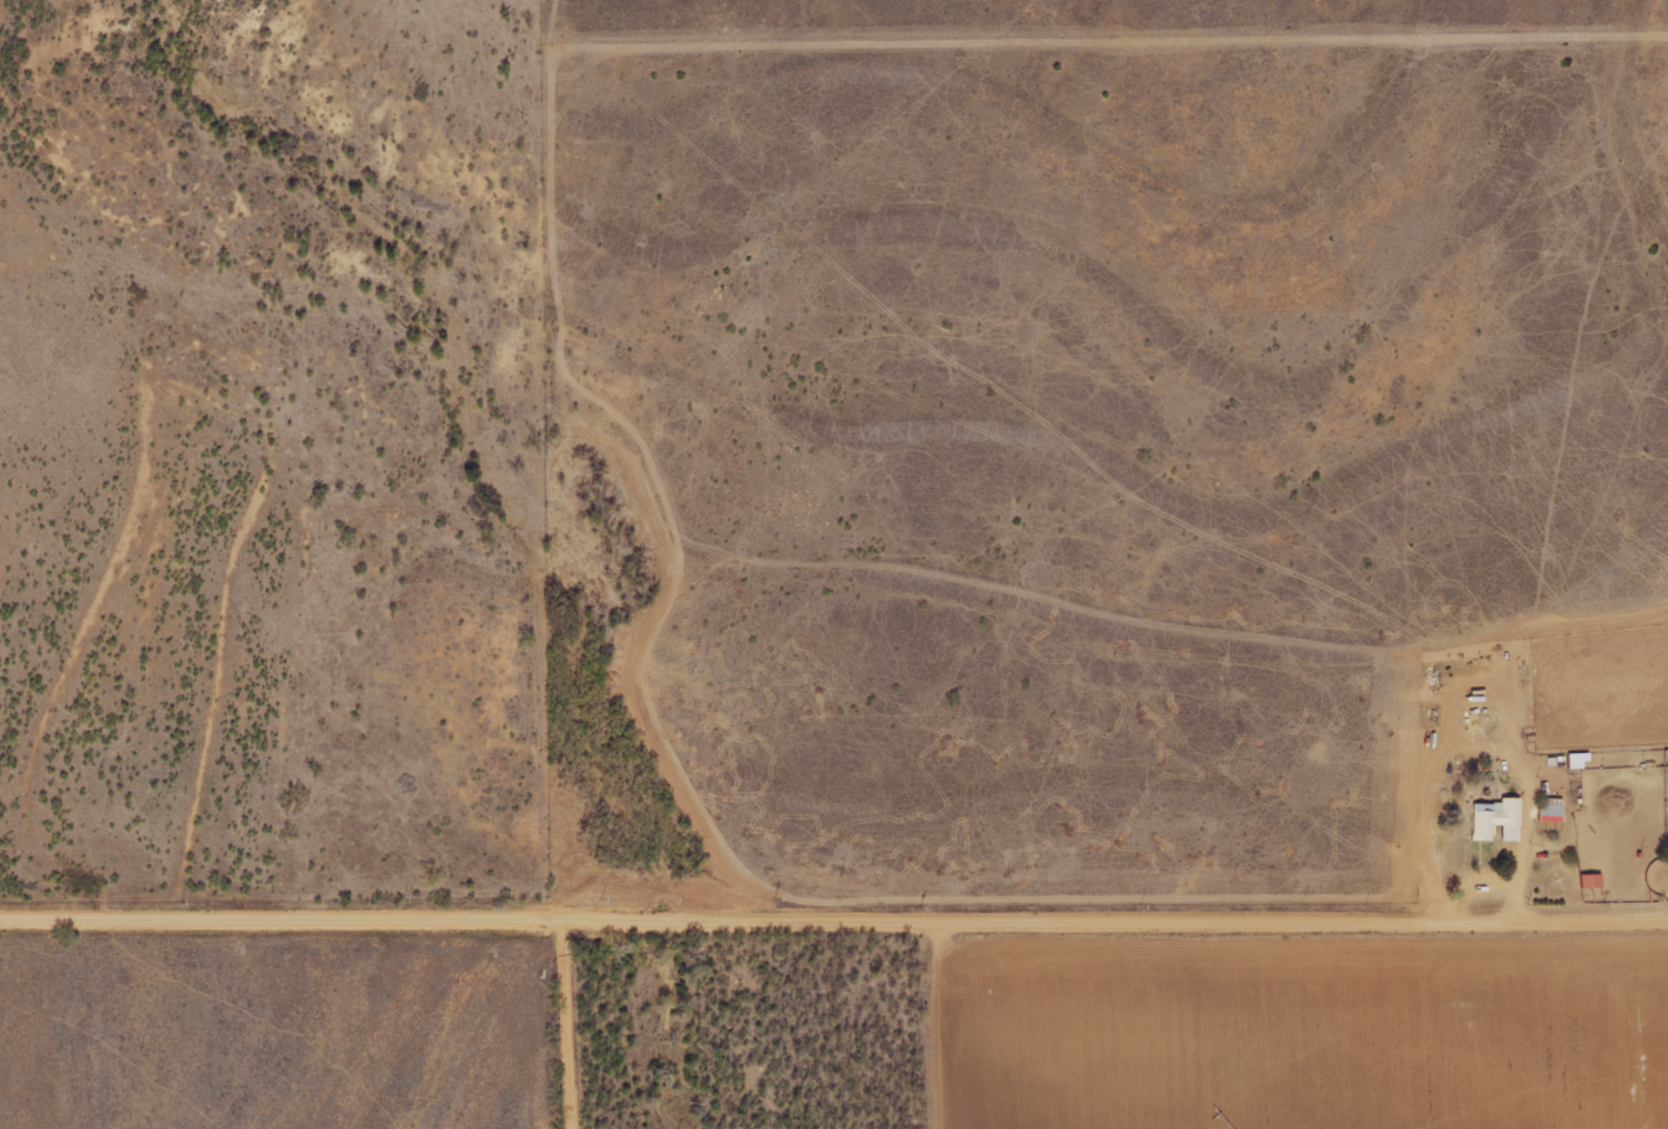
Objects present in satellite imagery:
building: (1499, 818)
road: (833, 917)
road: (465, 1031)

